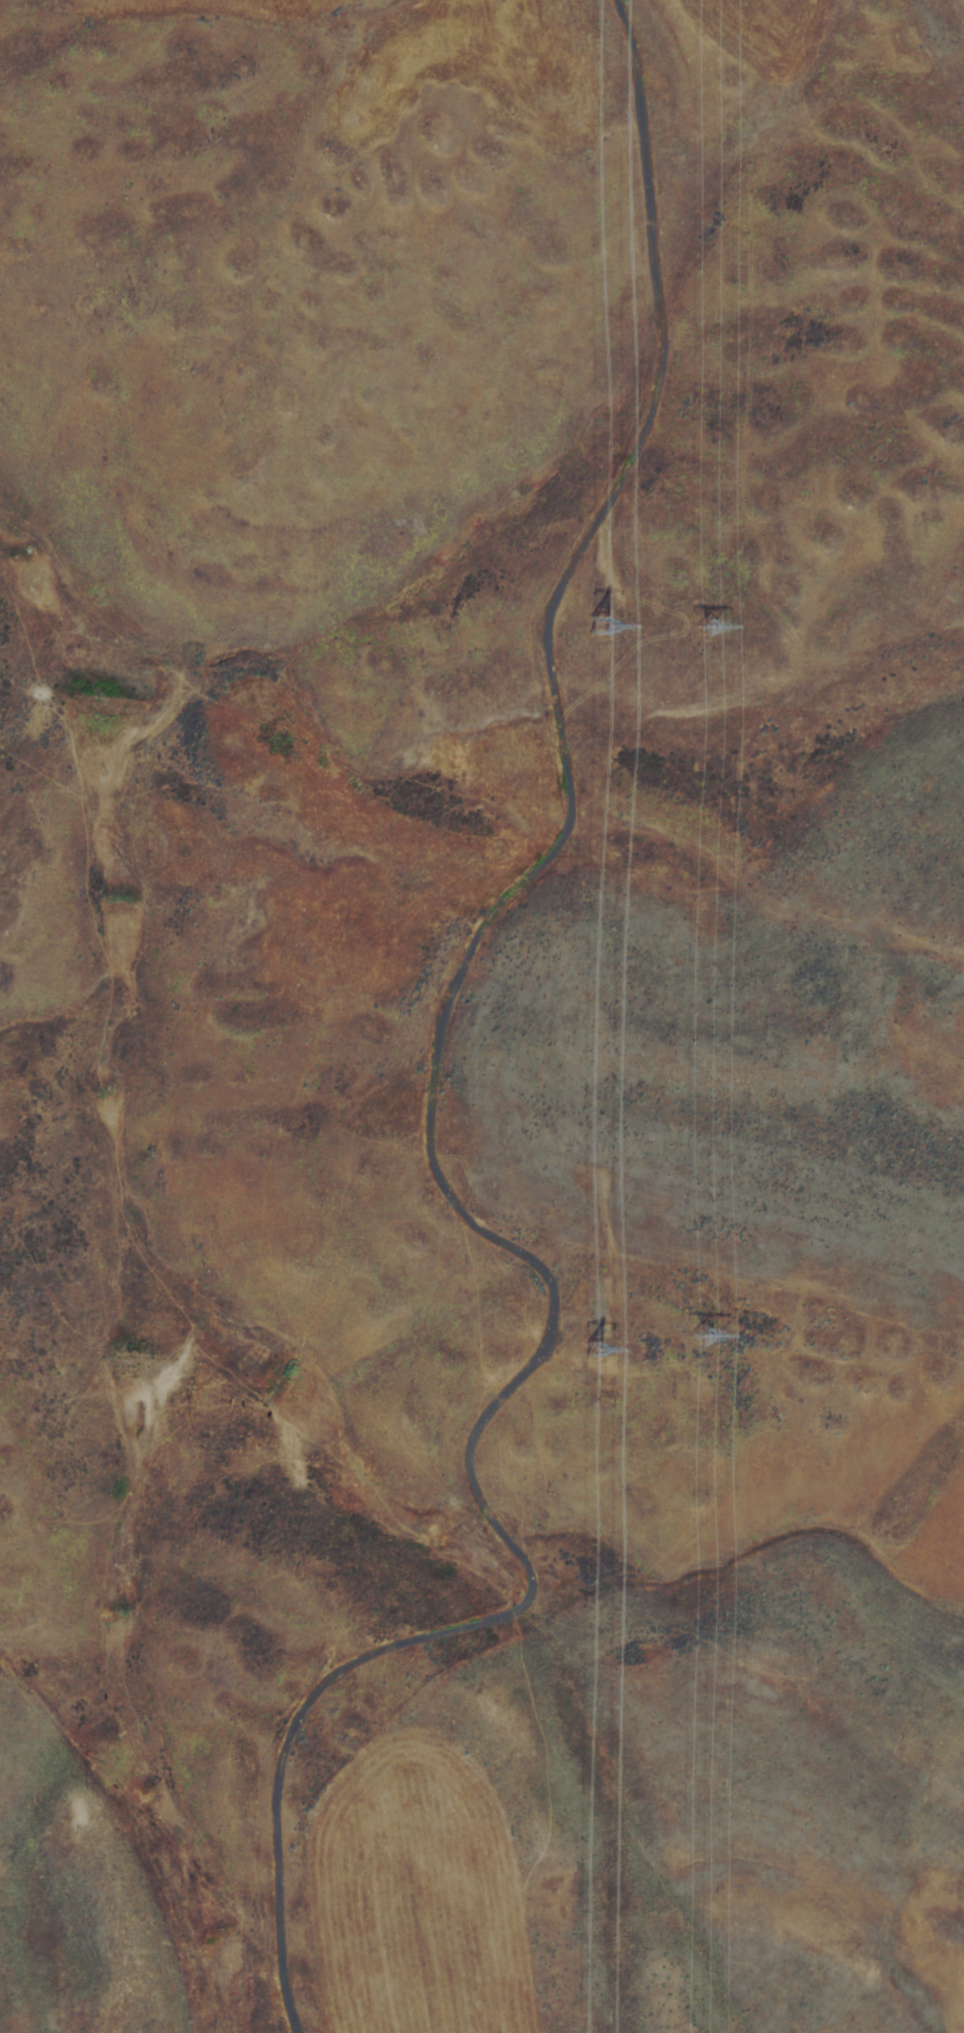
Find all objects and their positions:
power tower: (615, 620)
power tower: (713, 639)
power tower: (622, 1336)
power tower: (712, 1338)

